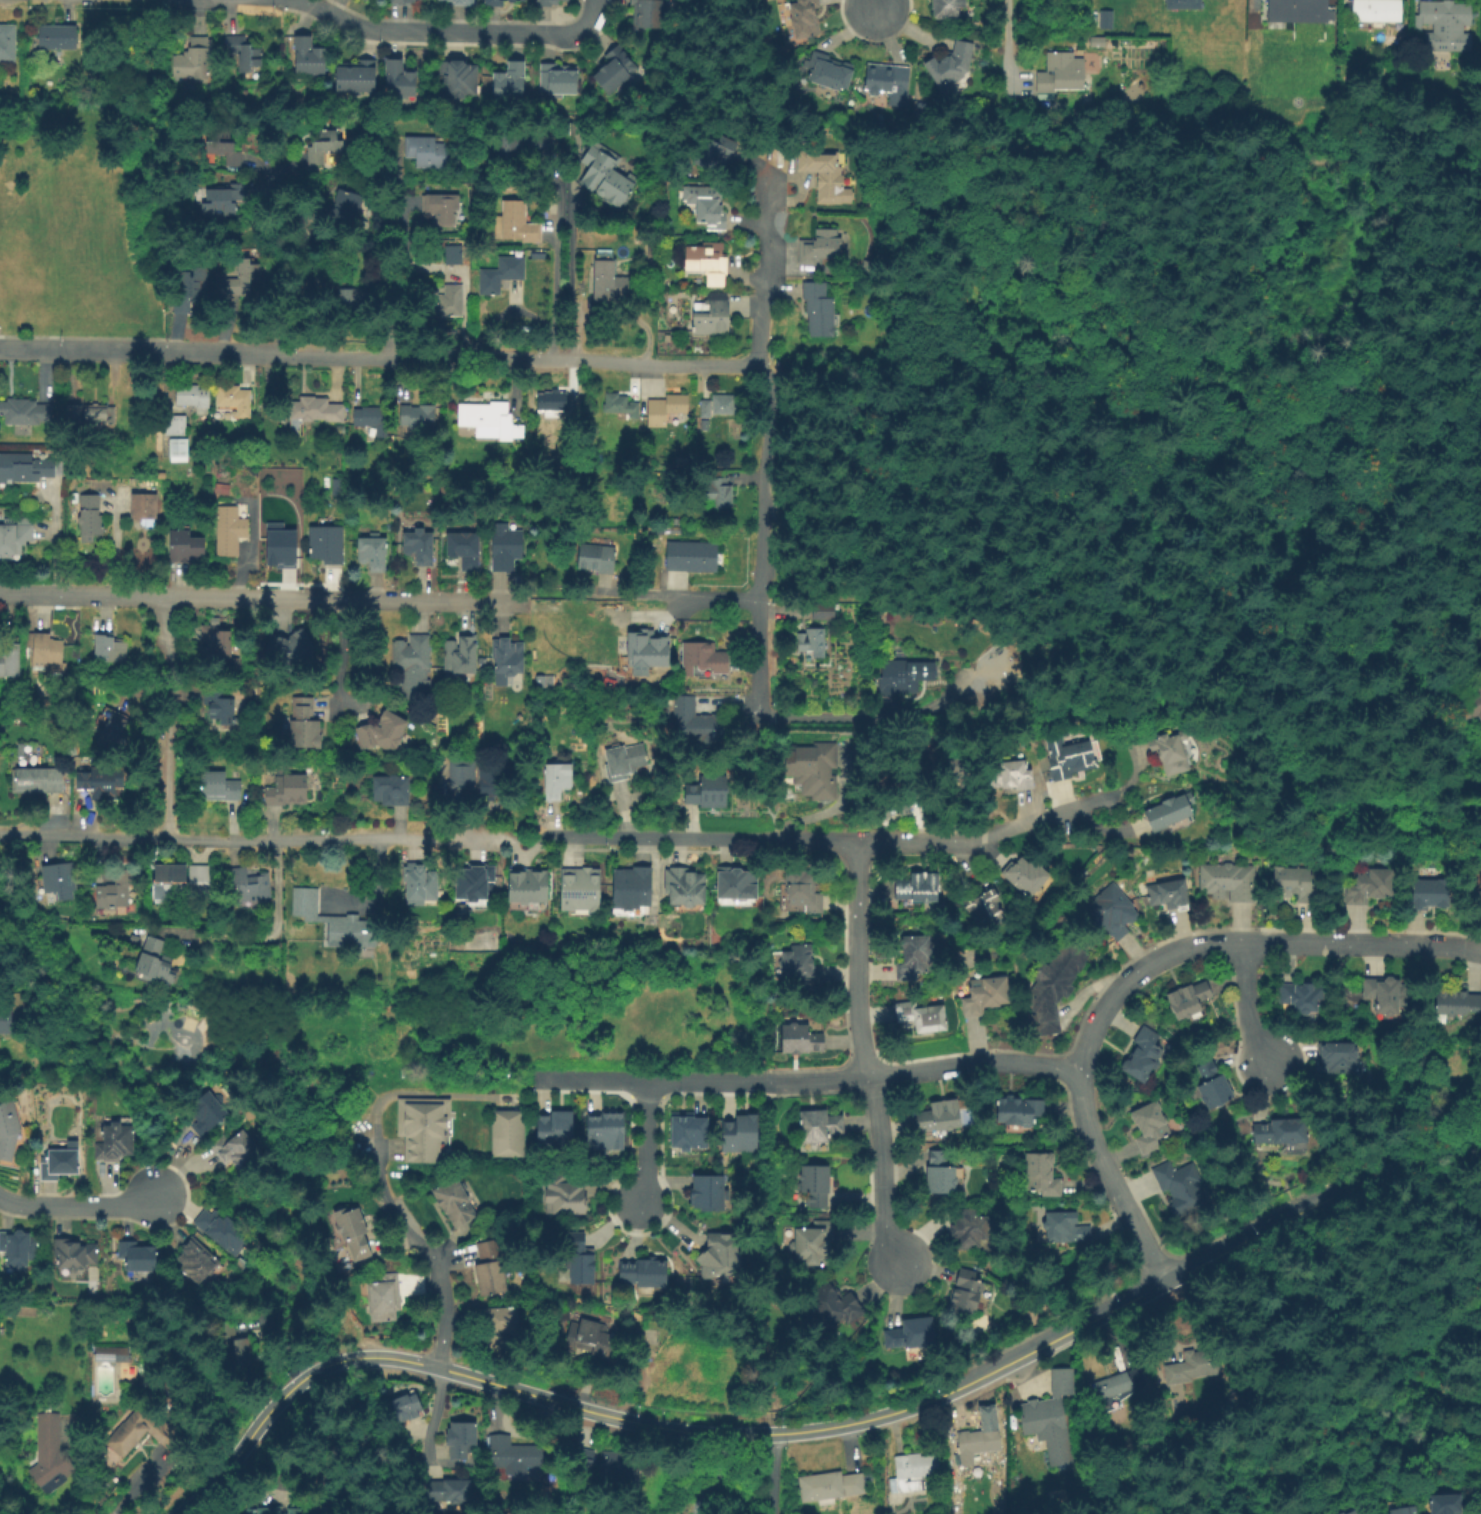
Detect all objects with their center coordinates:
building: (364, 1)
road: (313, 2)
building: (405, 3)
building: (460, 3)
building: (549, 3)
building: (503, 4)
road: (872, 5)
building: (1184, 5)
building: (949, 9)
building: (1304, 9)
building: (1378, 10)
road: (594, 12)
building: (649, 16)
building: (805, 19)
building: (1107, 20)
building: (1446, 26)
road: (444, 33)
building: (58, 38)
building: (8, 43)
road: (1009, 49)
building: (245, 53)
building: (309, 58)
building: (195, 61)
building: (952, 65)
building: (616, 72)
building: (830, 72)
building: (1063, 74)
building: (455, 77)
building: (357, 78)
road: (138, 79)
building: (887, 79)
building: (401, 81)
building: (558, 82)
building: (512, 84)
road: (1038, 131)
building: (519, 143)
building: (325, 147)
building: (226, 149)
building: (714, 152)
building: (428, 153)
building: (607, 178)
building: (827, 179)
road: (1145, 195)
building: (224, 200)
building: (342, 201)
building: (443, 209)
building: (712, 209)
building: (519, 224)
building: (819, 247)
building: (652, 253)
building: (455, 256)
building: (707, 259)
road: (393, 261)
road: (280, 262)
road: (556, 264)
building: (239, 269)
building: (502, 274)
building: (617, 281)
building: (193, 289)
building: (340, 296)
building: (355, 298)
building: (449, 301)
building: (675, 306)
building: (820, 309)
building: (712, 314)
road: (84, 351)
road: (466, 359)
road: (838, 380)
building: (195, 397)
building: (235, 399)
building: (550, 403)
building: (620, 405)
building: (724, 405)
building: (666, 409)
building: (707, 409)
building: (24, 411)
building: (317, 411)
building: (91, 416)
building: (418, 416)
building: (486, 418)
building: (372, 420)
building: (176, 424)
road: (766, 444)
building: (179, 449)
building: (682, 462)
building: (28, 468)
road: (1303, 471)
road: (1477, 476)
building: (337, 487)
building: (718, 492)
building: (145, 503)
building: (89, 513)
road: (1093, 530)
building: (229, 531)
road: (1387, 533)
building: (16, 537)
road: (53, 542)
building: (326, 546)
building: (421, 547)
building: (506, 547)
building: (281, 548)
building: (186, 550)
building: (465, 551)
building: (374, 555)
building: (693, 556)
building: (597, 558)
road: (857, 571)
road: (560, 595)
road: (681, 597)
road: (261, 600)
building: (824, 612)
building: (590, 617)
building: (1479, 636)
building: (812, 640)
building: (217, 642)
building: (47, 650)
building: (110, 650)
building: (646, 650)
building: (293, 651)
building: (461, 656)
building: (10, 658)
building: (506, 658)
building: (705, 658)
building: (414, 667)
building: (905, 676)
building: (1465, 711)
building: (218, 712)
road: (838, 716)
road: (167, 719)
building: (698, 723)
building: (114, 732)
building: (303, 732)
building: (382, 736)
building: (1167, 752)
building: (1069, 757)
building: (626, 761)
road: (764, 762)
building: (1010, 770)
building: (814, 771)
building: (951, 774)
building: (462, 778)
building: (558, 781)
building: (39, 782)
building: (100, 785)
building: (496, 785)
building: (220, 792)
building: (710, 792)
building: (289, 793)
building: (392, 793)
building: (891, 808)
building: (1170, 812)
road: (989, 836)
road: (522, 838)
road: (188, 839)
road: (441, 839)
road: (698, 839)
road: (523, 854)
building: (1028, 874)
building: (60, 875)
building: (171, 876)
building: (200, 878)
building: (250, 882)
building: (421, 882)
building: (479, 882)
building: (687, 882)
building: (739, 882)
building: (1228, 882)
building: (529, 883)
building: (1295, 884)
building: (580, 885)
building: (633, 885)
building: (920, 885)
building: (117, 888)
building: (1369, 889)
building: (800, 890)
building: (1429, 892)
building: (1169, 893)
building: (1479, 896)
building: (987, 908)
building: (1112, 911)
building: (336, 921)
road: (268, 935)
building: (136, 937)
road: (1209, 942)
building: (915, 956)
building: (101, 960)
building: (156, 961)
building: (801, 963)
building: (1052, 985)
building: (986, 994)
building: (1387, 994)
building: (1302, 995)
building: (1190, 999)
building: (1456, 1003)
road: (1249, 1006)
building: (921, 1012)
building: (6, 1020)
building: (802, 1039)
building: (1144, 1055)
road: (867, 1056)
building: (1340, 1056)
road: (977, 1064)
road: (815, 1079)
building: (1214, 1084)
road: (636, 1085)
building: (209, 1112)
building: (1021, 1112)
building: (942, 1113)
building: (422, 1125)
building: (605, 1126)
building: (556, 1127)
building: (821, 1127)
building: (1151, 1127)
building: (8, 1129)
building: (1283, 1130)
building: (690, 1131)
building: (508, 1132)
building: (742, 1133)
building: (116, 1140)
road: (648, 1145)
building: (236, 1149)
road: (1423, 1159)
building: (61, 1163)
building: (940, 1171)
building: (1041, 1174)
building: (816, 1187)
building: (1180, 1187)
building: (710, 1193)
building: (565, 1195)
building: (457, 1202)
road: (79, 1206)
road: (1129, 1213)
building: (1066, 1227)
building: (223, 1228)
building: (969, 1229)
building: (353, 1230)
building: (815, 1242)
building: (19, 1246)
building: (72, 1251)
building: (139, 1255)
building: (724, 1256)
building: (198, 1259)
building: (578, 1260)
road: (436, 1265)
road: (1249, 1265)
building: (490, 1267)
building: (645, 1273)
road: (1150, 1286)
road: (1255, 1287)
building: (966, 1292)
building: (385, 1296)
building: (836, 1304)
building: (501, 1324)
building: (912, 1332)
building: (593, 1337)
building: (234, 1345)
building: (113, 1353)
building: (1196, 1365)
building: (1116, 1384)
building: (1176, 1388)
road: (523, 1391)
road: (1274, 1396)
building: (406, 1404)
building: (990, 1416)
building: (1050, 1416)
road: (429, 1418)
building: (142, 1431)
building: (462, 1438)
building: (975, 1446)
building: (52, 1452)
building: (512, 1453)
building: (580, 1458)
building: (615, 1463)
building: (913, 1470)
road: (771, 1473)
road: (723, 1475)
building: (831, 1486)
building: (449, 1490)
road: (1237, 1502)
building: (1442, 1502)
building: (1400, 1509)
building: (267, 1510)
building: (296, 1511)
building: (1346, 1511)
road: (1238, 1512)

